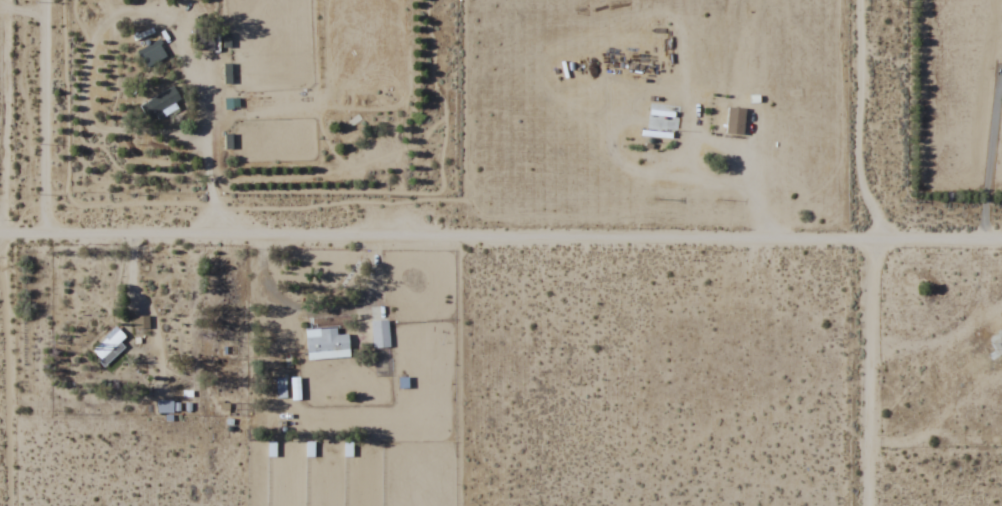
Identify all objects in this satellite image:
building: (202, 43)
road: (859, 47)
building: (159, 102)
building: (735, 121)
building: (232, 141)
road: (859, 171)
road: (501, 240)
road: (2, 252)
building: (379, 333)
building: (108, 343)
building: (325, 343)
building: (997, 345)
road: (868, 373)

